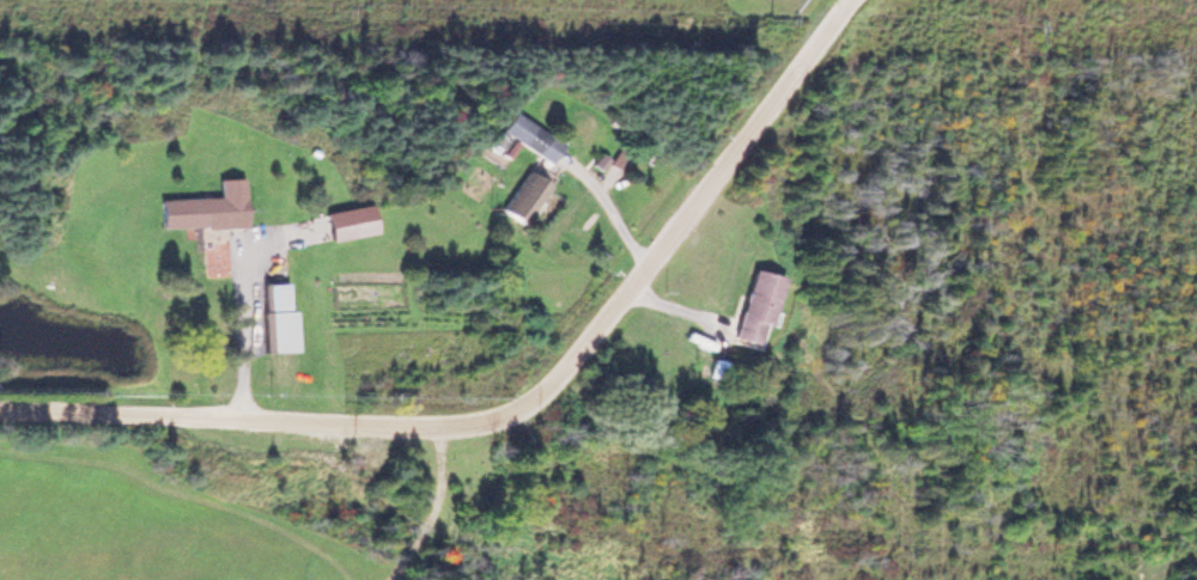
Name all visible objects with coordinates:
building: (528, 135)
building: (519, 195)
building: (205, 206)
building: (347, 220)
road: (238, 286)
building: (753, 304)
building: (277, 315)
building: (716, 368)
road: (515, 402)

